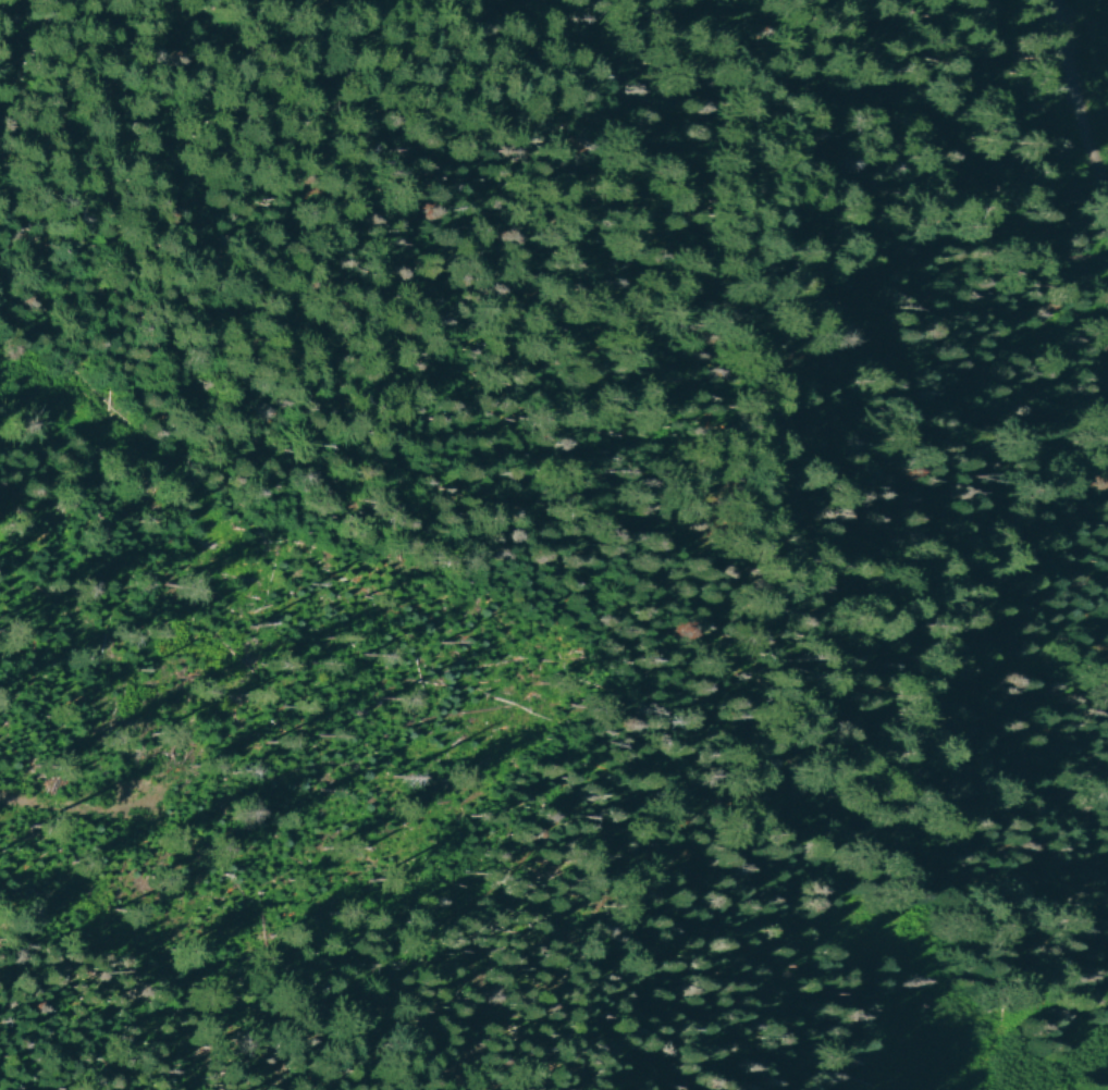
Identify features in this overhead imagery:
road: (1068, 112)
road: (581, 545)
road: (22, 797)

